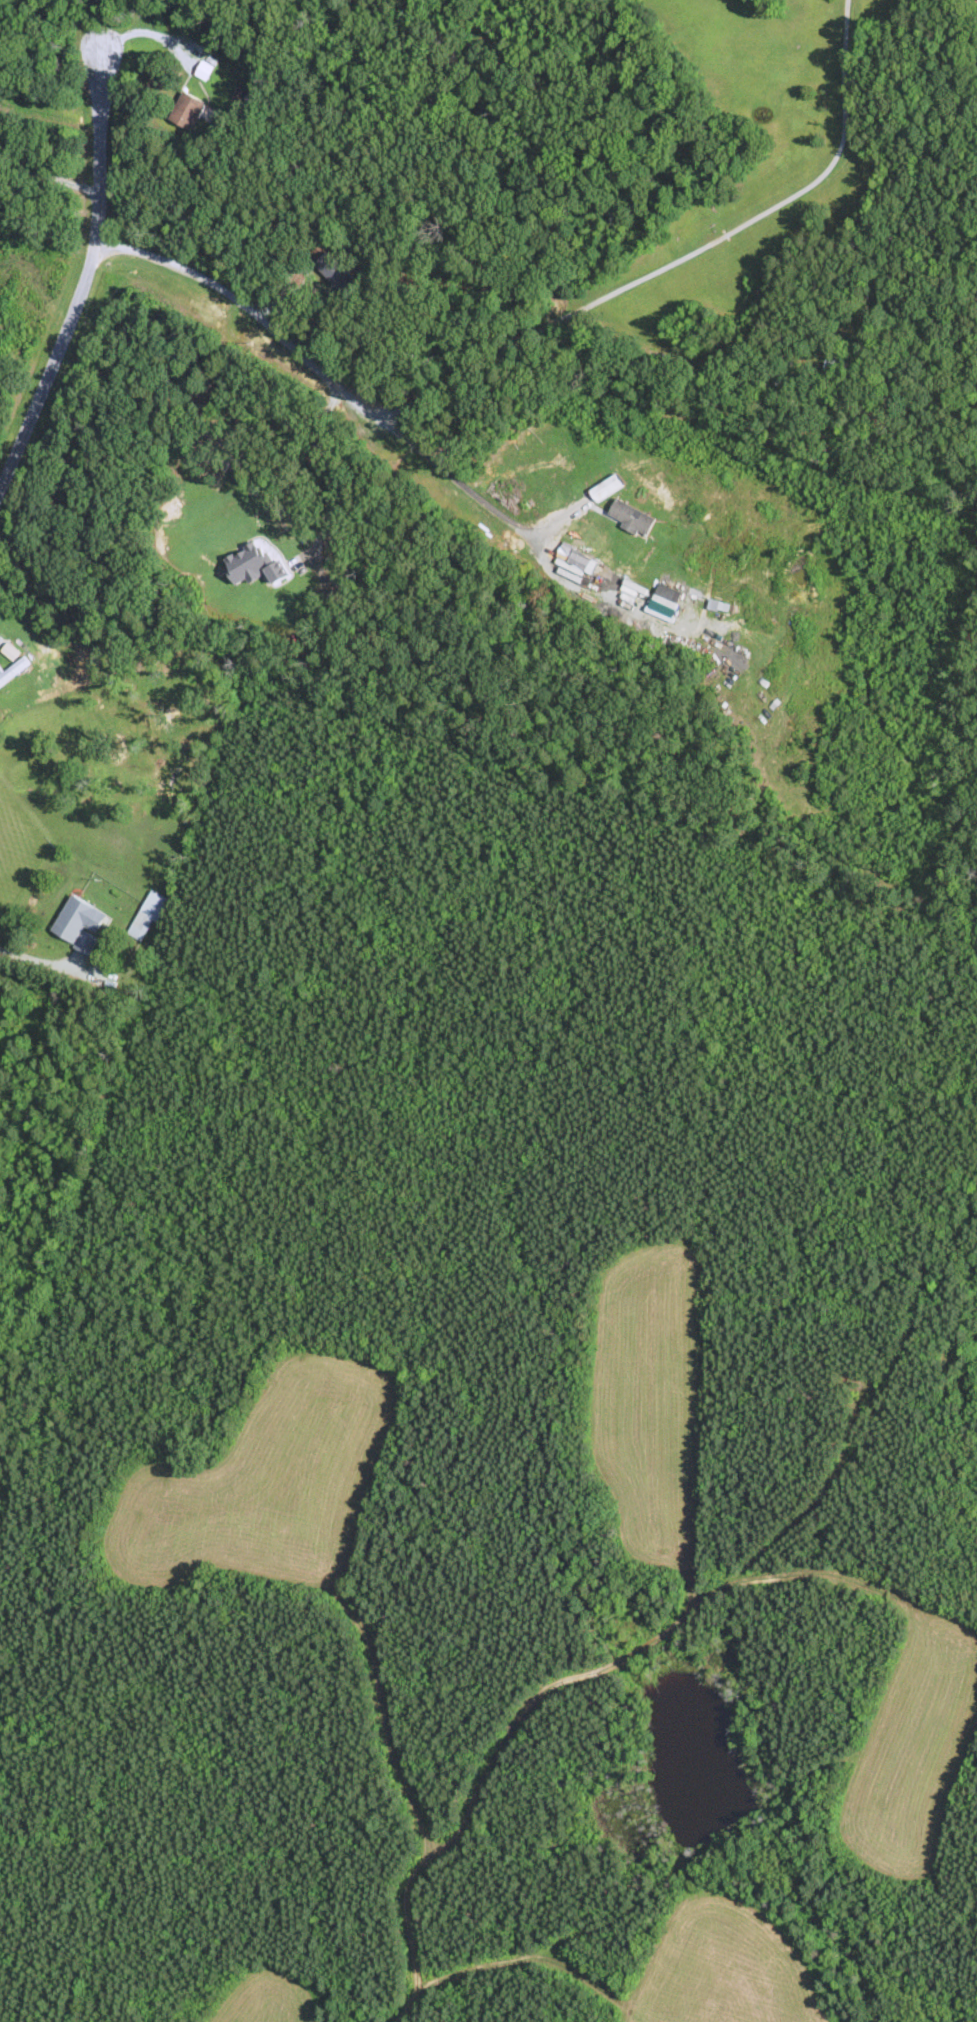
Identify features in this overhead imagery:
building: (205, 69)
building: (186, 113)
road: (46, 174)
road: (684, 256)
road: (86, 270)
building: (336, 274)
building: (833, 364)
road: (324, 371)
road: (327, 470)
building: (599, 493)
building: (631, 518)
building: (572, 559)
building: (251, 567)
building: (666, 597)
building: (717, 606)
building: (43, 665)
building: (13, 670)
building: (148, 914)
building: (79, 924)
road: (41, 960)

